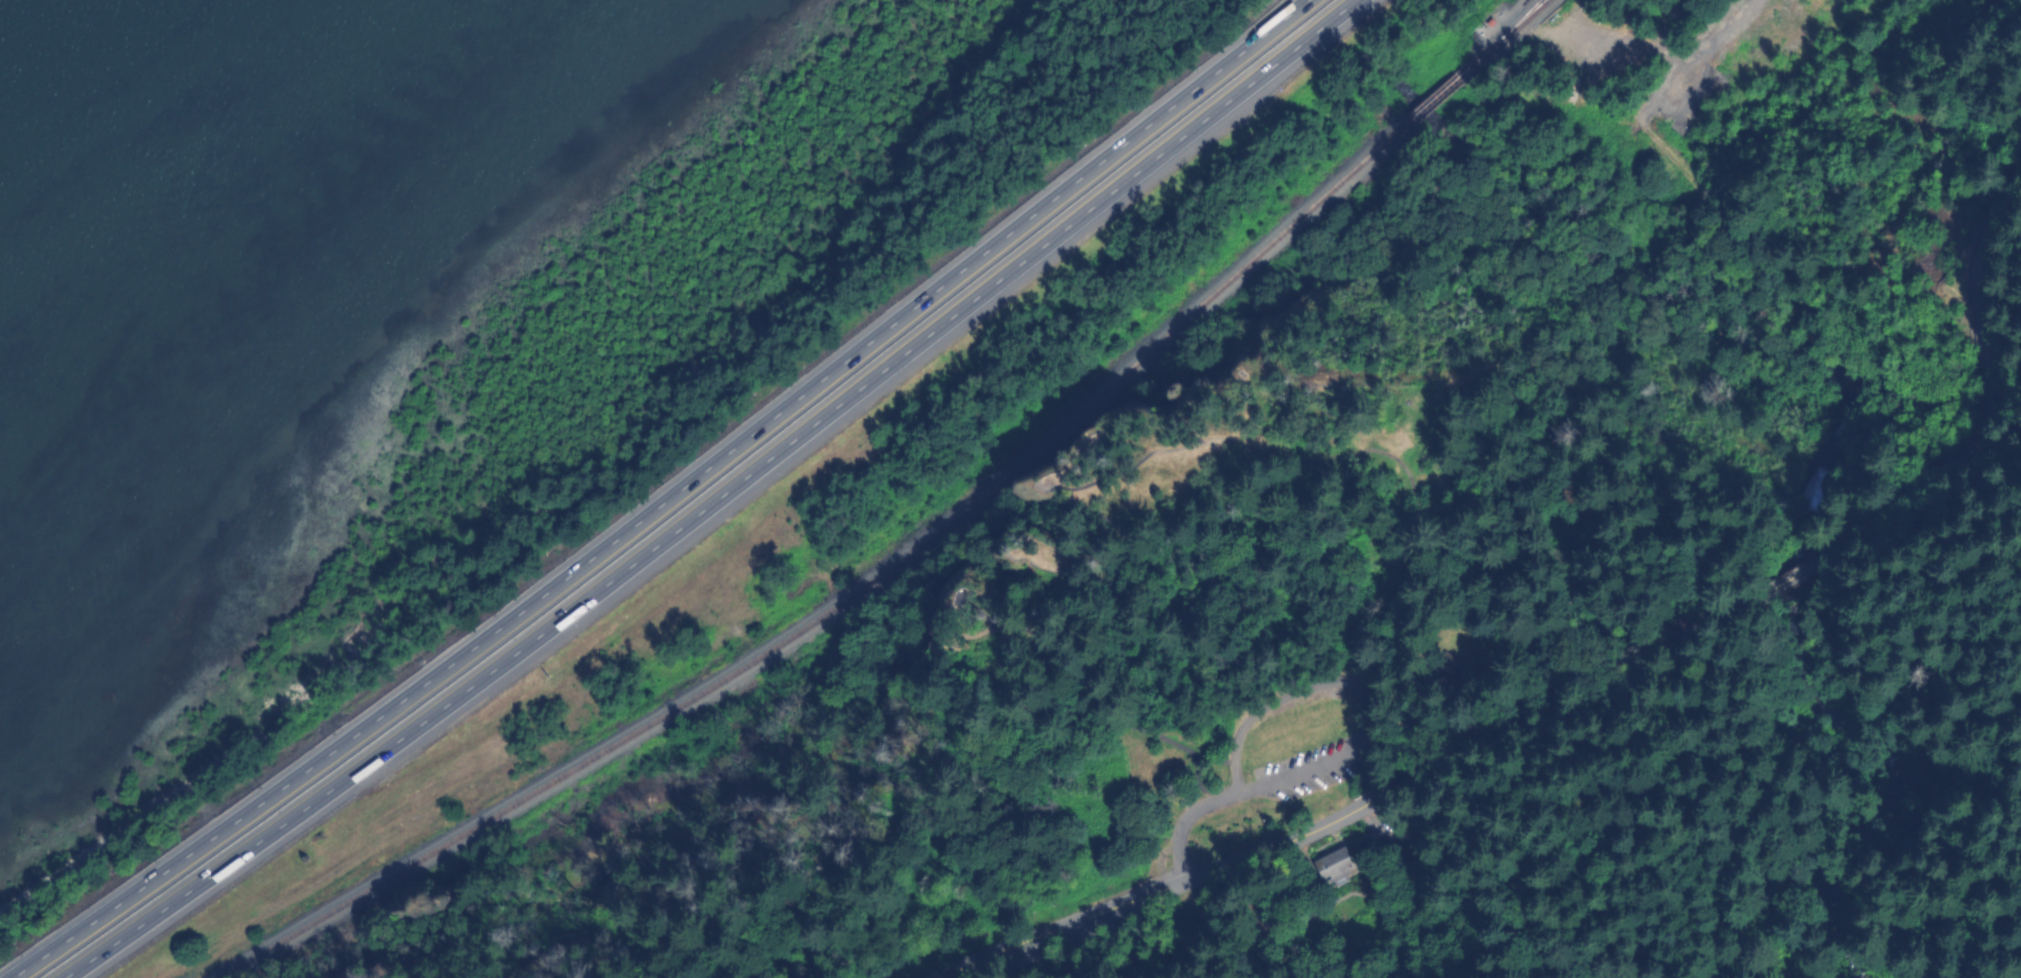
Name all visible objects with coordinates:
road: (1570, 17)
railway: (1509, 29)
railway: (1503, 38)
road: (1617, 43)
railway: (1436, 99)
road: (1650, 134)
road: (1606, 312)
road: (1785, 320)
road: (1718, 326)
road: (1772, 326)
road: (1992, 389)
road: (1613, 459)
road: (1040, 496)
road: (711, 500)
road: (666, 502)
road: (1803, 580)
railway: (853, 595)
road: (1377, 696)
parking lot: (1316, 767)
road: (1363, 808)
road: (1183, 824)
building: (1334, 863)

